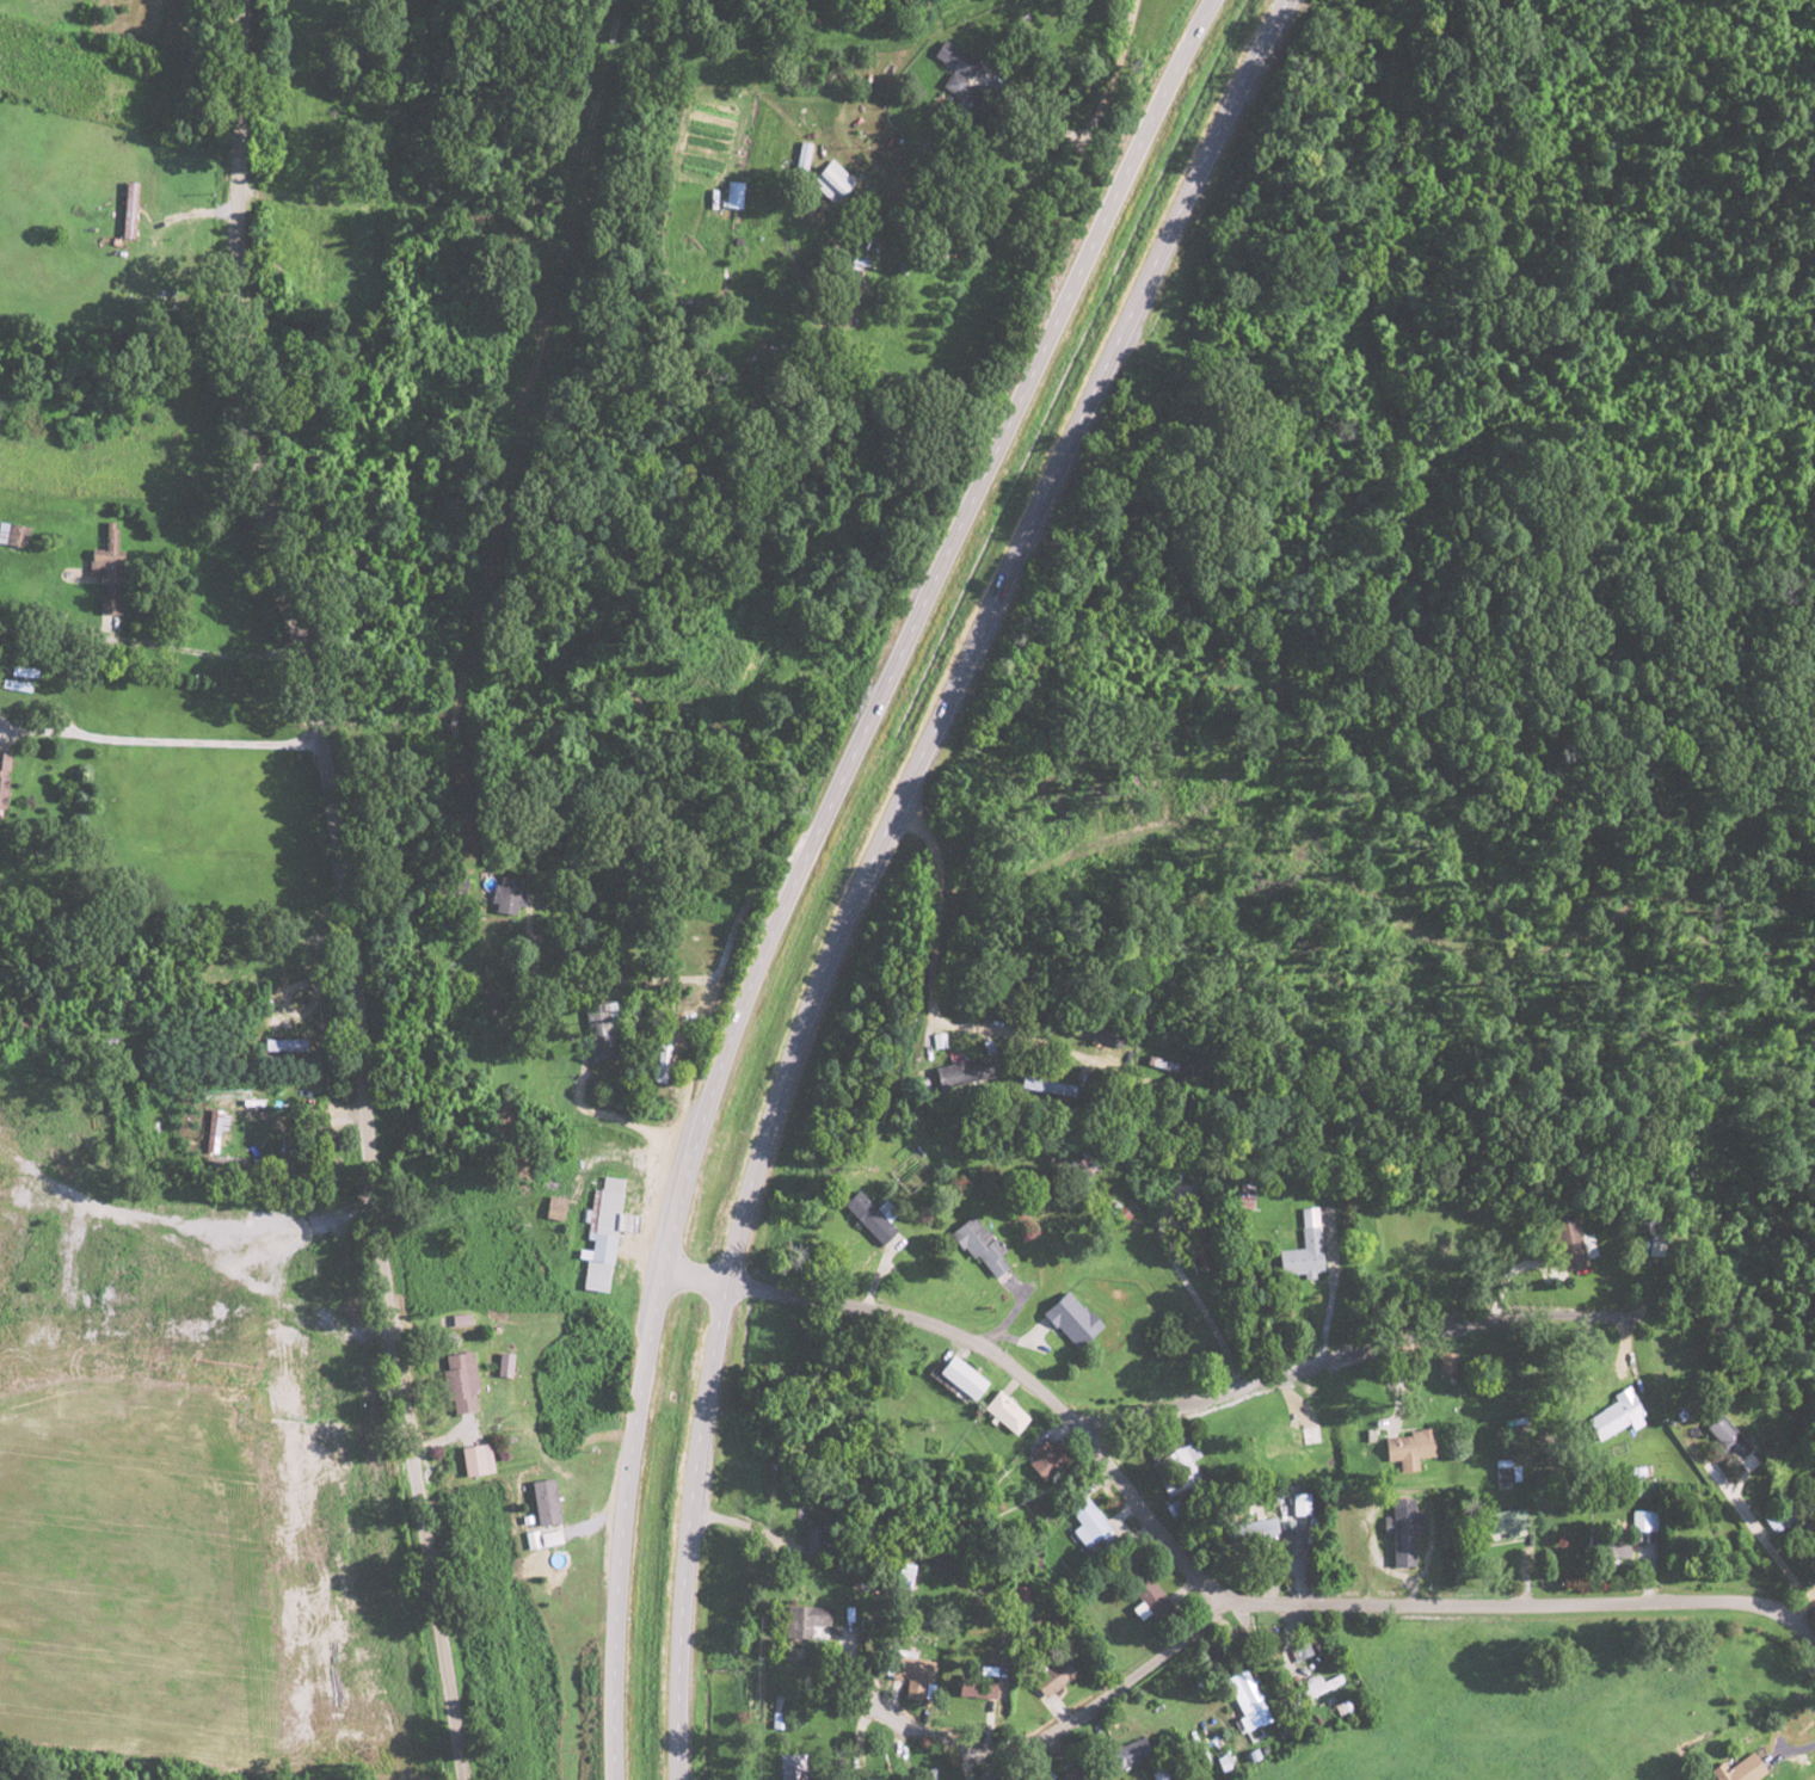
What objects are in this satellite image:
road: (800, 855)
road: (873, 856)
road: (330, 889)
building: (959, 1074)
building: (553, 1208)
building: (869, 1217)
building: (601, 1234)
building: (979, 1245)
building: (1305, 1248)
building: (1069, 1320)
road: (1255, 1366)
building: (961, 1376)
building: (461, 1382)
building: (1003, 1412)
building: (1610, 1416)
building: (1728, 1439)
building: (1403, 1448)
building: (1041, 1456)
building: (476, 1460)
building: (1183, 1462)
building: (546, 1502)
building: (1298, 1504)
building: (1503, 1521)
building: (1087, 1523)
building: (1249, 1533)
building: (1610, 1546)
road: (1195, 1584)
building: (1144, 1596)
building: (802, 1621)
building: (1048, 1680)
road: (1048, 1735)
building: (1121, 1756)
building: (790, 1767)
building: (1735, 1769)
building: (1068, 1775)

